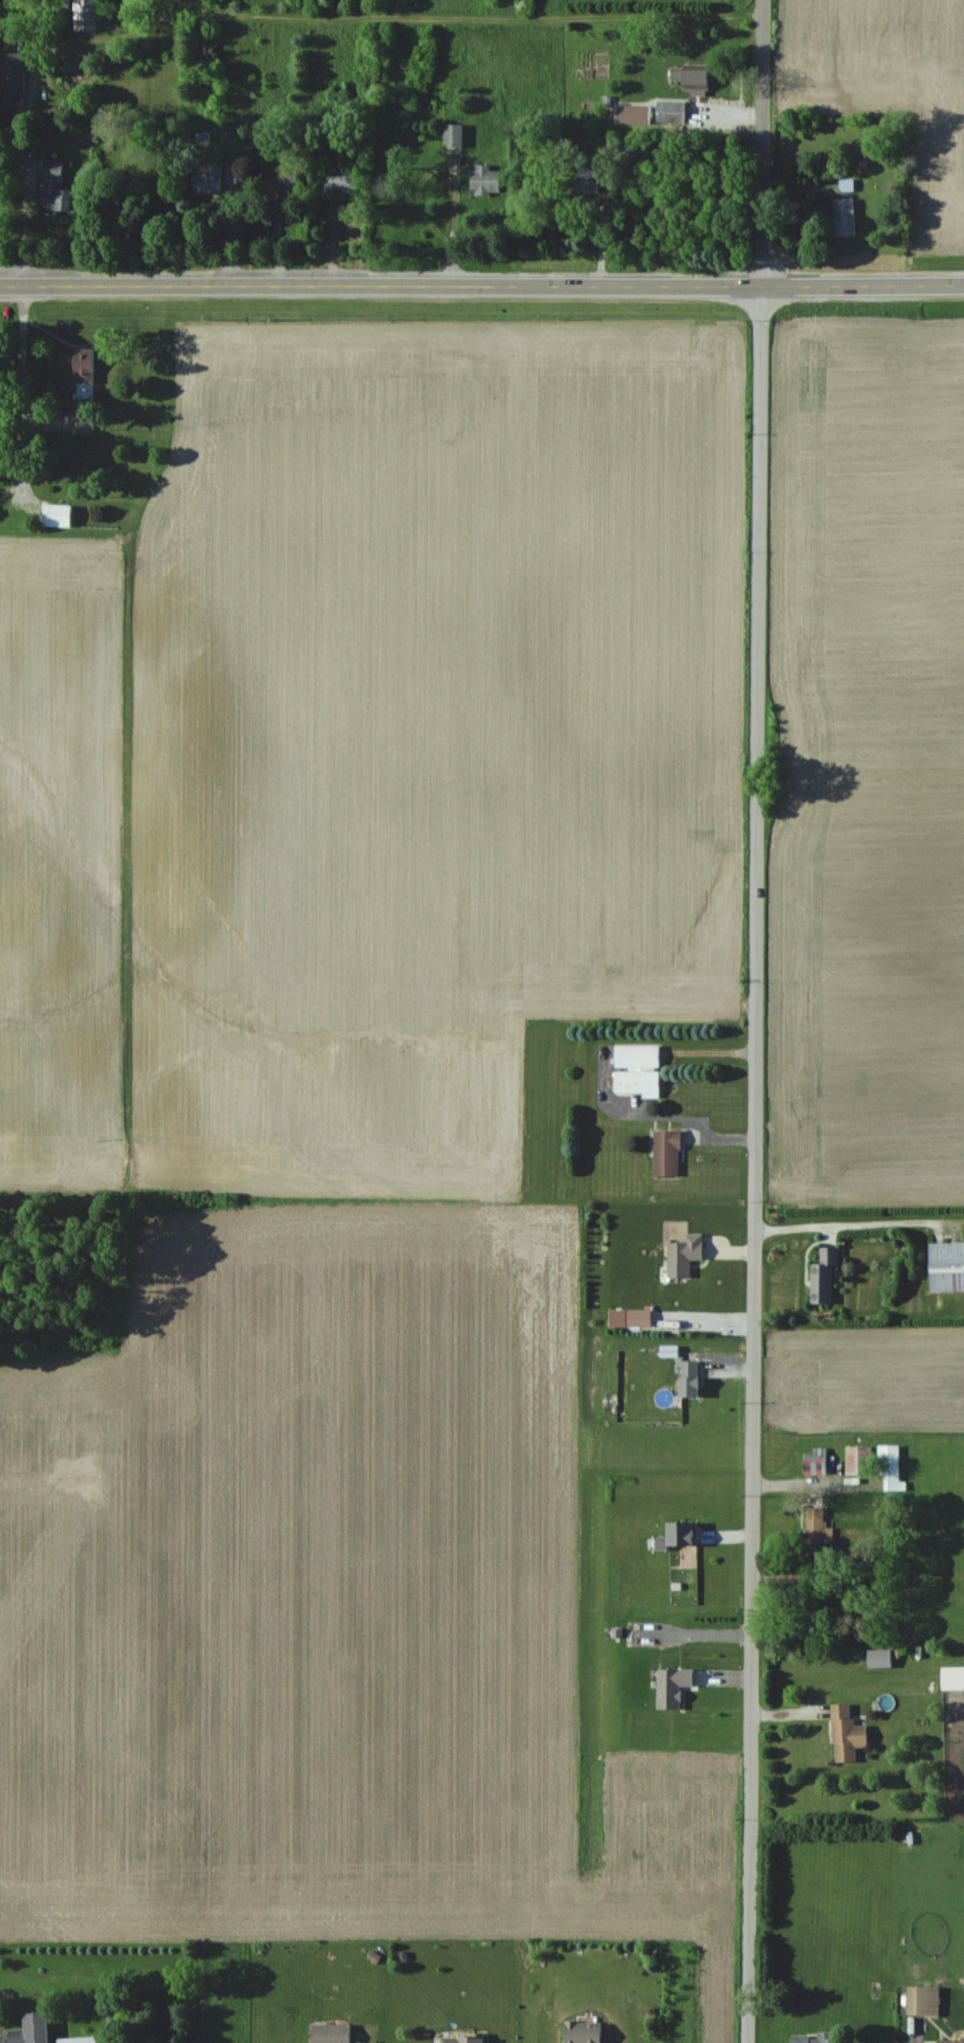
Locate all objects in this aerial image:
building: (695, 78)
building: (10, 83)
building: (670, 111)
building: (454, 134)
building: (341, 176)
building: (484, 179)
building: (292, 180)
building: (587, 180)
building: (209, 181)
building: (847, 185)
building: (53, 186)
building: (845, 217)
road: (22, 223)
road: (862, 285)
road: (380, 287)
building: (85, 372)
road: (23, 388)
building: (57, 515)
road: (757, 1021)
building: (634, 1071)
road: (660, 1119)
building: (664, 1154)
road: (849, 1224)
building: (681, 1255)
building: (945, 1266)
building: (821, 1275)
building: (686, 1378)
building: (856, 1460)
building: (813, 1462)
building: (888, 1466)
road: (812, 1484)
building: (677, 1532)
building: (815, 1532)
building: (877, 1658)
building: (951, 1678)
building: (844, 1734)
road: (176, 1983)
building: (921, 2001)
building: (27, 2030)
building: (579, 2032)
building: (328, 2033)
building: (816, 2038)
building: (77, 2040)
building: (459, 2040)
building: (949, 2041)

